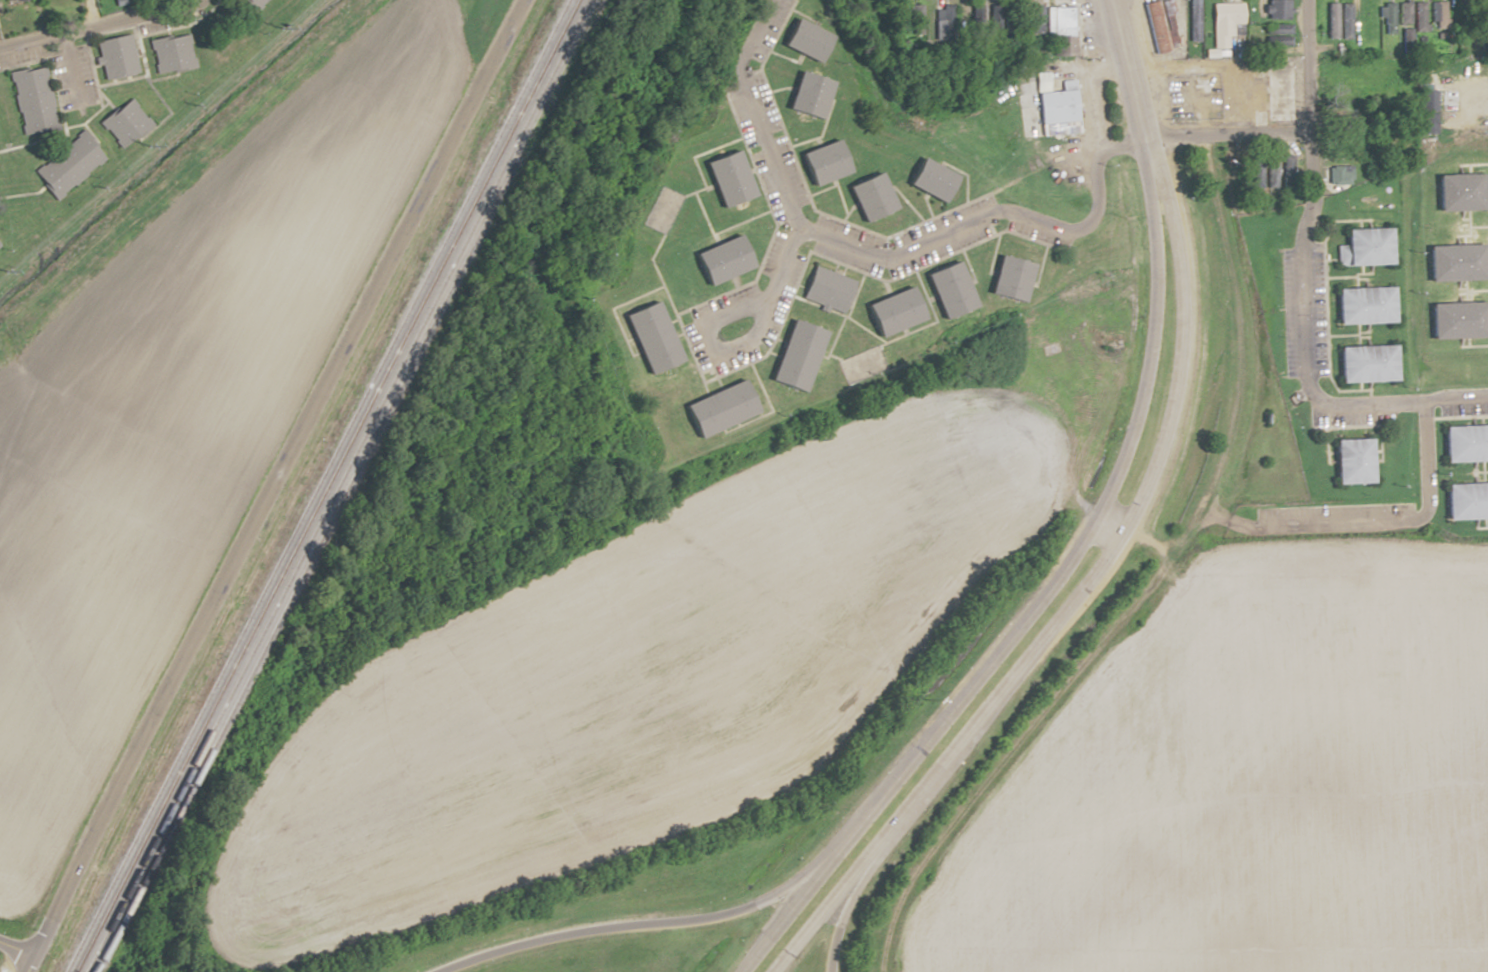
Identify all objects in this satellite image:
building: (7, 0)
building: (251, 3)
building: (1273, 8)
building: (1399, 11)
road: (93, 12)
road: (1041, 13)
building: (1415, 15)
building: (1435, 15)
building: (942, 17)
building: (1382, 17)
building: (1027, 18)
building: (1335, 19)
building: (1221, 22)
road: (96, 24)
building: (1158, 25)
building: (1274, 33)
building: (803, 40)
building: (168, 52)
building: (114, 55)
road: (1301, 66)
road: (1136, 67)
building: (1415, 69)
building: (1437, 69)
building: (1459, 69)
road: (1110, 72)
building: (1480, 72)
road: (74, 73)
building: (1275, 88)
building: (805, 94)
building: (1445, 99)
building: (31, 100)
building: (1053, 106)
building: (1424, 110)
building: (122, 122)
building: (1341, 122)
road: (1213, 134)
building: (819, 162)
building: (65, 164)
building: (1338, 175)
building: (726, 177)
building: (926, 179)
building: (1457, 192)
building: (866, 195)
building: (1, 244)
building: (1360, 247)
road: (871, 256)
building: (719, 259)
building: (1450, 262)
building: (1006, 278)
building: (945, 288)
building: (824, 289)
building: (1359, 305)
building: (889, 311)
building: (1452, 320)
building: (648, 336)
road: (759, 339)
road: (1299, 354)
building: (792, 355)
building: (1361, 363)
crop: (183, 408)
building: (715, 408)
building: (1463, 443)
building: (1347, 461)
road: (275, 476)
railway: (337, 485)
railway: (316, 486)
railway: (326, 486)
railway: (347, 486)
building: (1464, 500)
road: (1127, 536)
road: (1144, 587)
road: (1030, 592)
road: (1077, 592)
road: (841, 912)
road: (649, 923)
road: (15, 949)
road: (27, 963)

